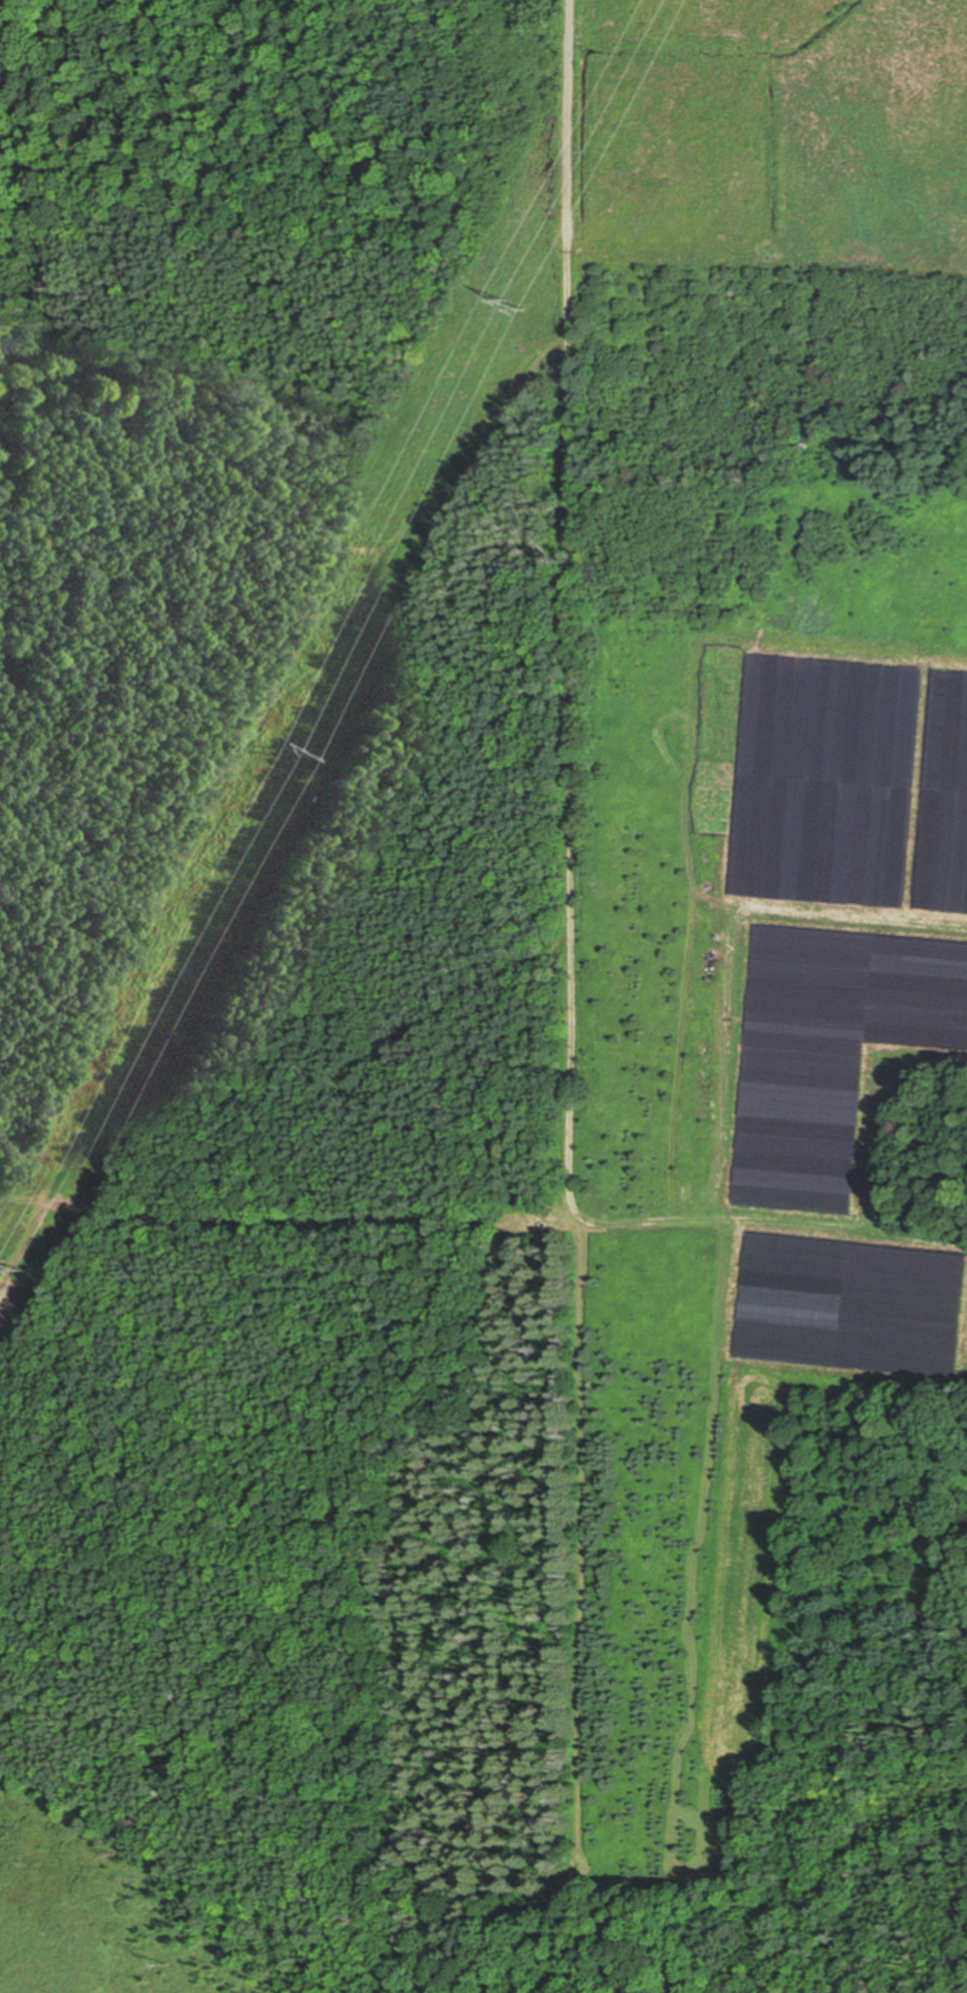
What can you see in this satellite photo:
crop: (772, 130)
road: (571, 602)
crop: (753, 1100)

